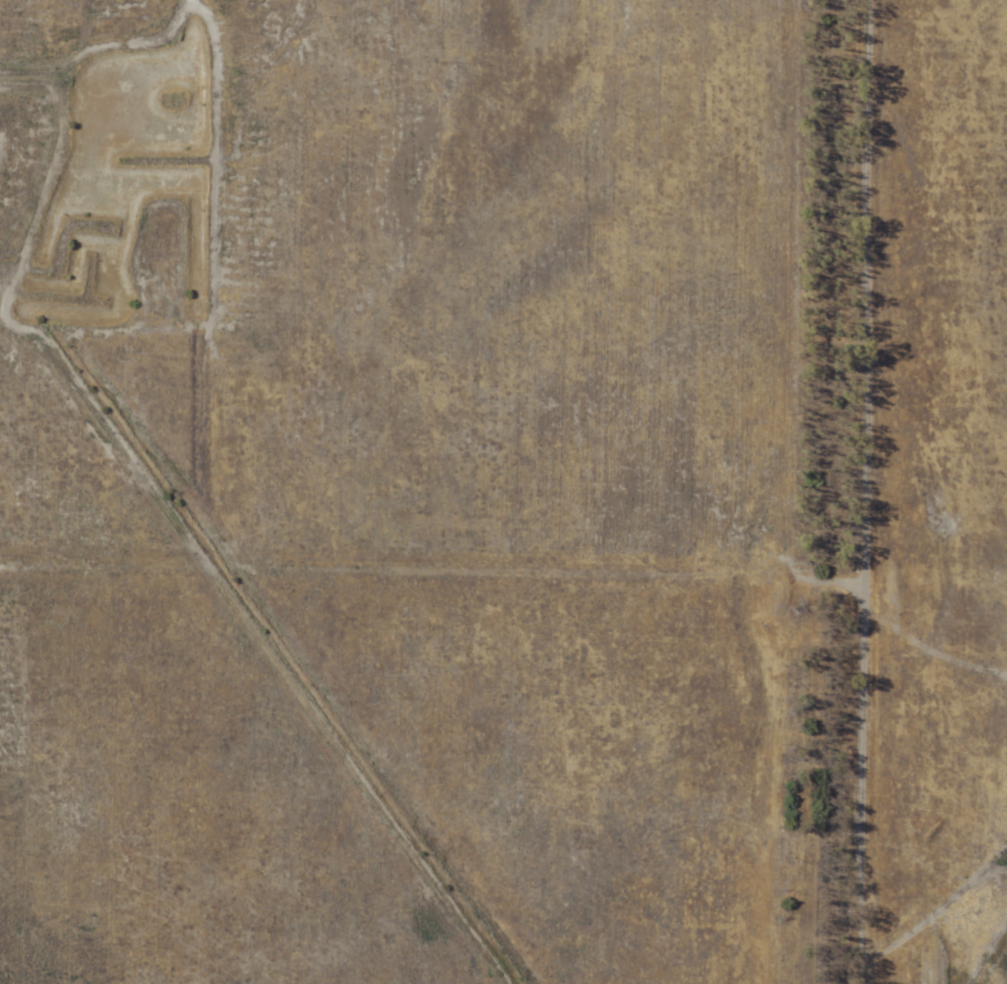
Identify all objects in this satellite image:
crop: (503, 492)

